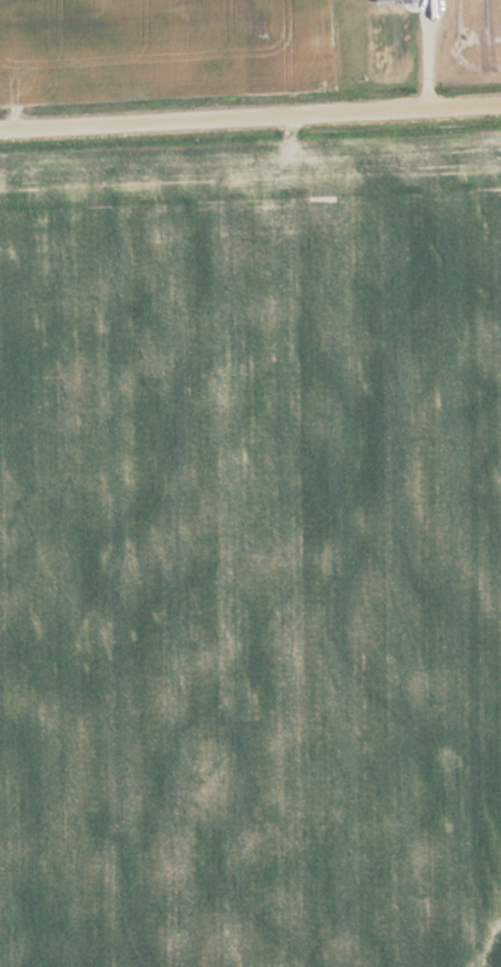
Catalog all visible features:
building: (374, 0)
road: (250, 113)

